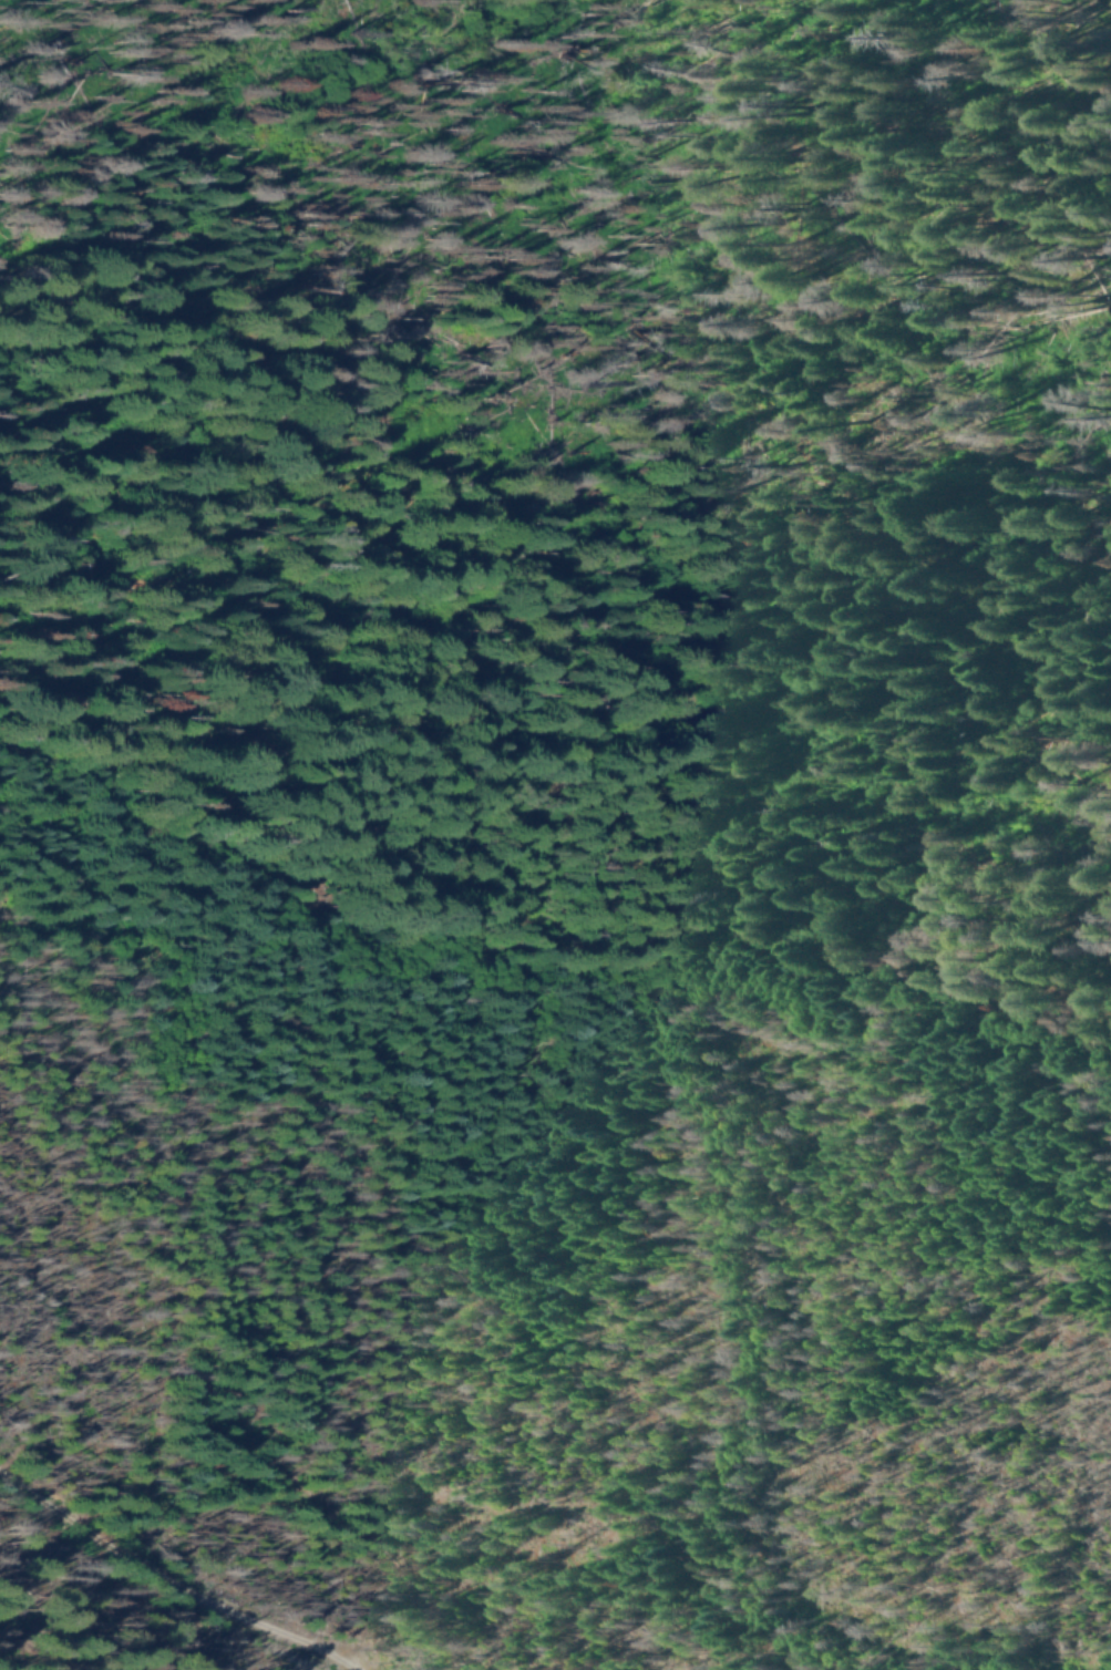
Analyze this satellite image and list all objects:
road: (163, 1580)

